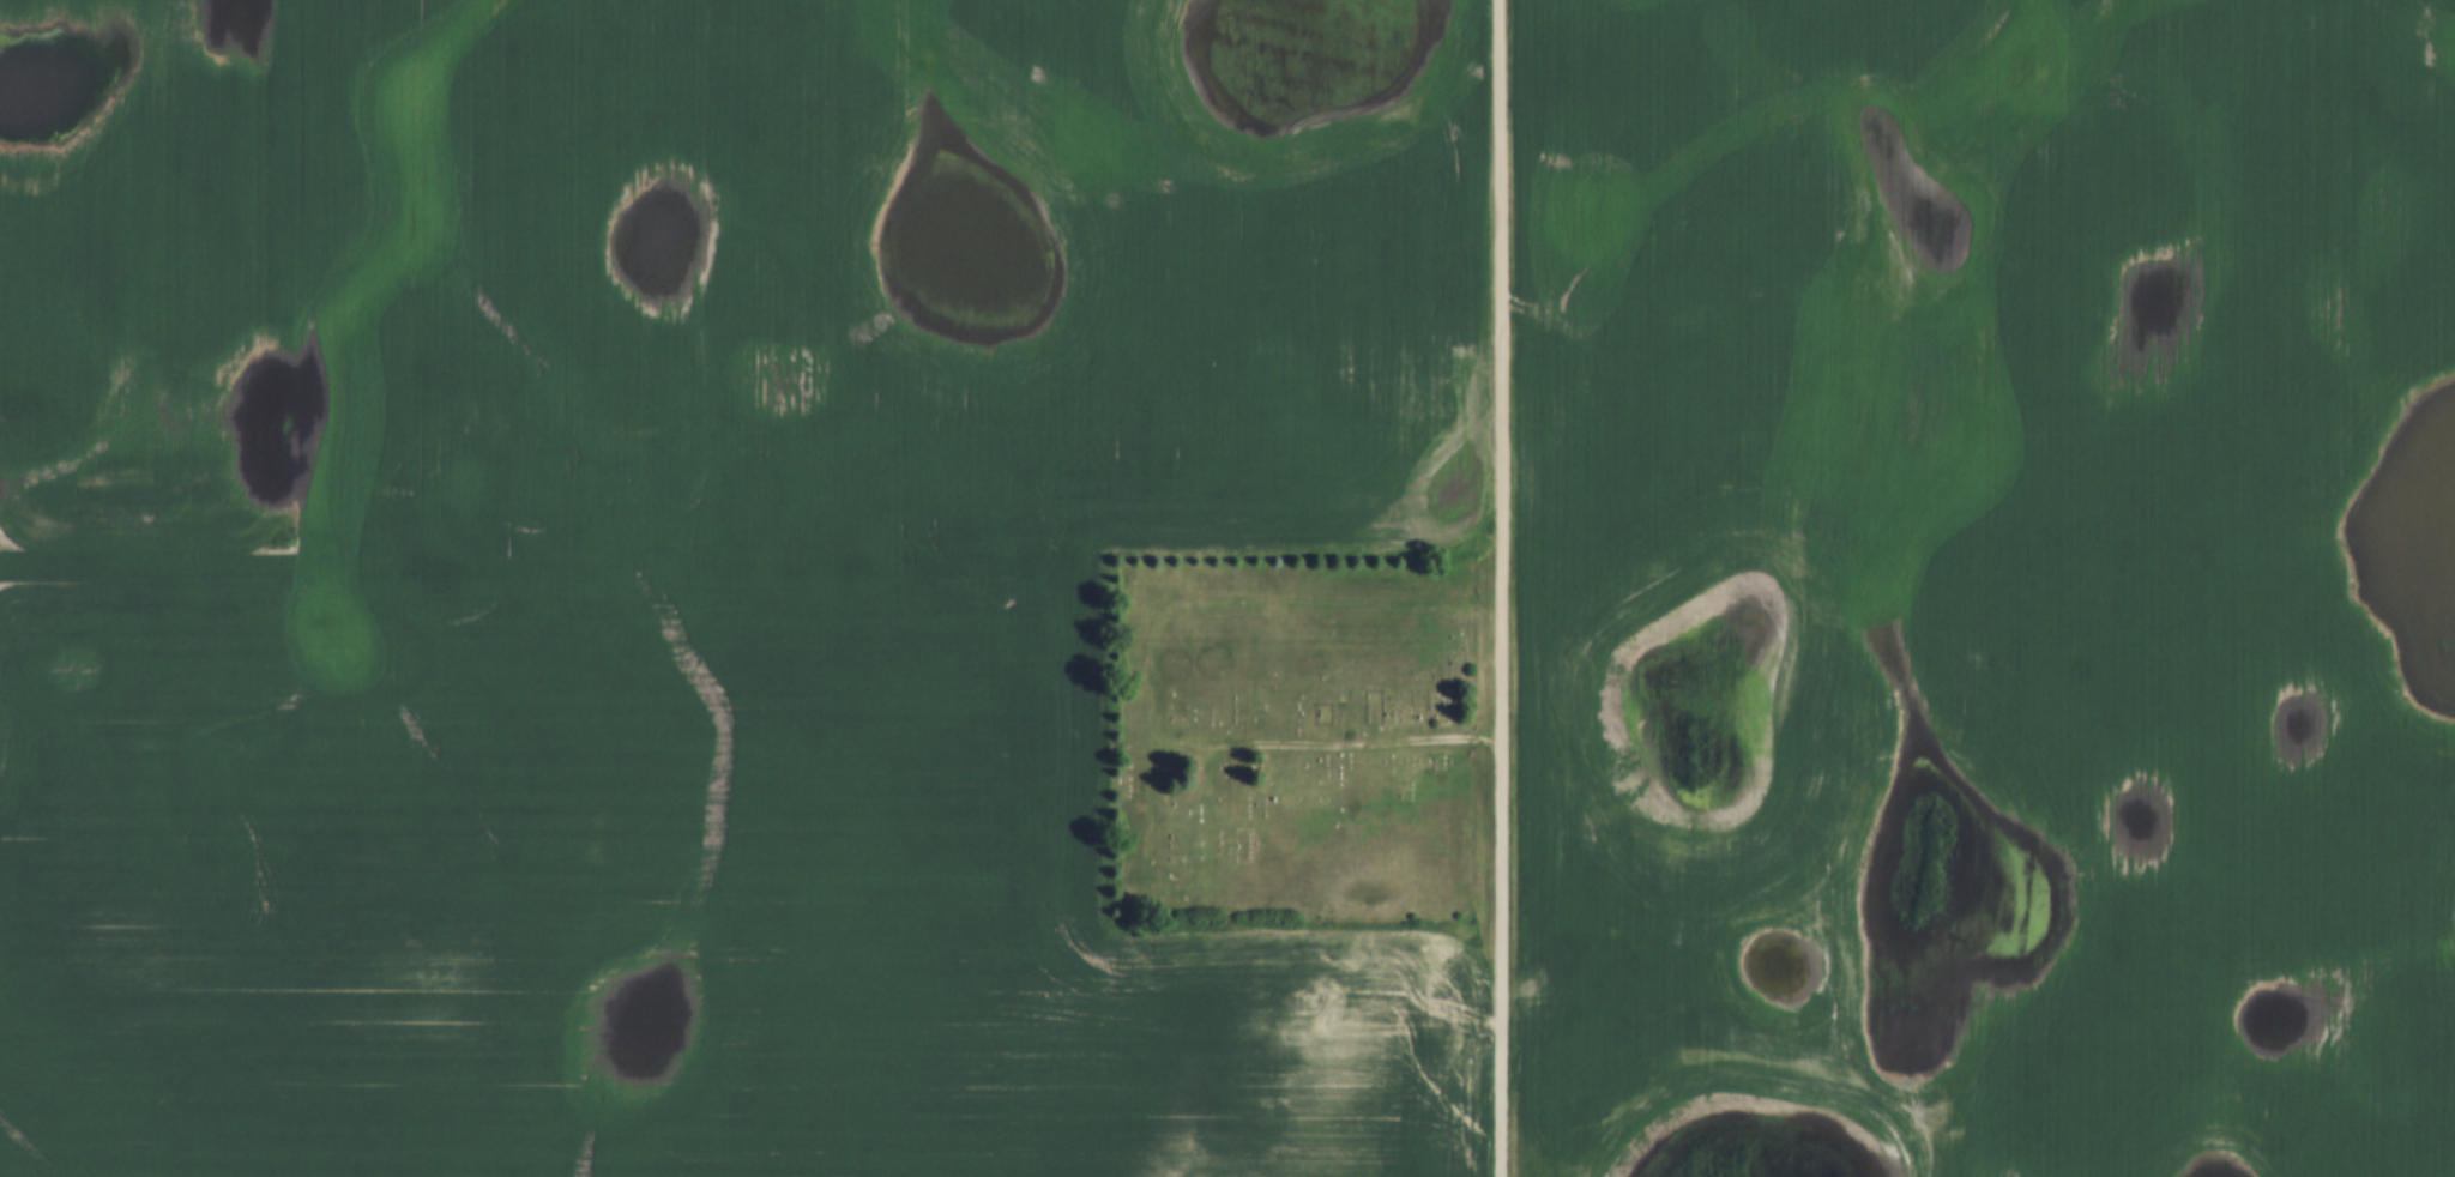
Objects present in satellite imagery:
road: (1498, 588)
park: (1295, 742)
road: (1370, 743)

